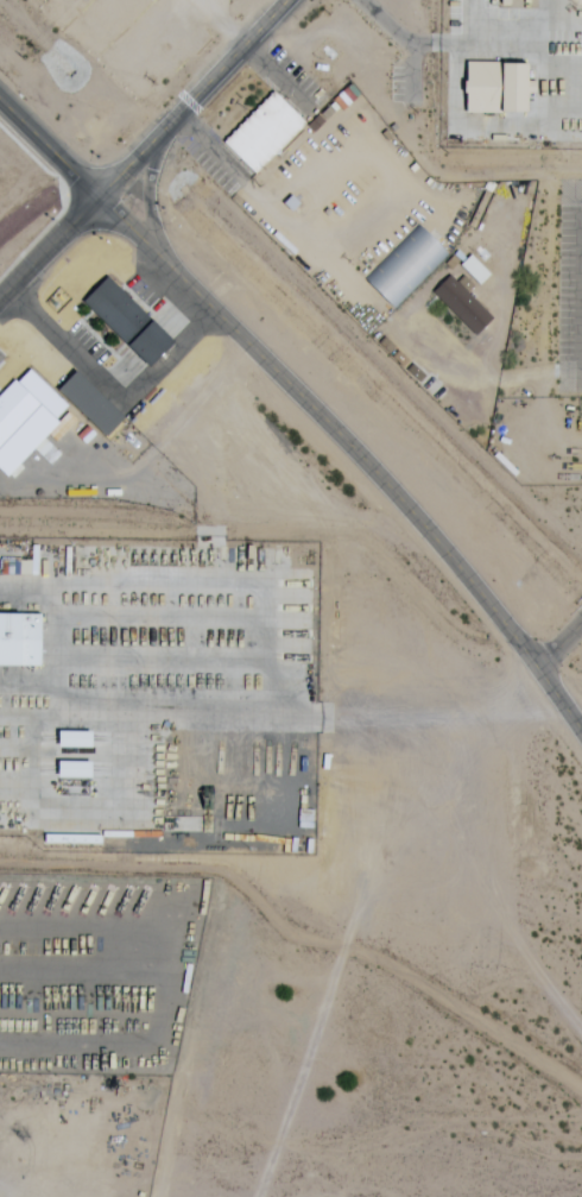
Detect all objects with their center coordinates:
road: (394, 32)
road: (411, 70)
parking lot: (290, 82)
parking lot: (406, 82)
building: (496, 89)
road: (192, 97)
building: (266, 134)
road: (49, 147)
road: (211, 150)
parking lot: (215, 157)
road: (150, 202)
road: (49, 247)
building: (406, 266)
building: (476, 270)
parking lot: (570, 289)
building: (463, 305)
building: (129, 322)
parking lot: (82, 349)
road: (113, 392)
building: (26, 420)
road: (355, 451)
building: (337, 603)
building: (21, 642)
road: (559, 645)
building: (77, 741)
building: (77, 770)
building: (76, 788)
building: (342, 836)

